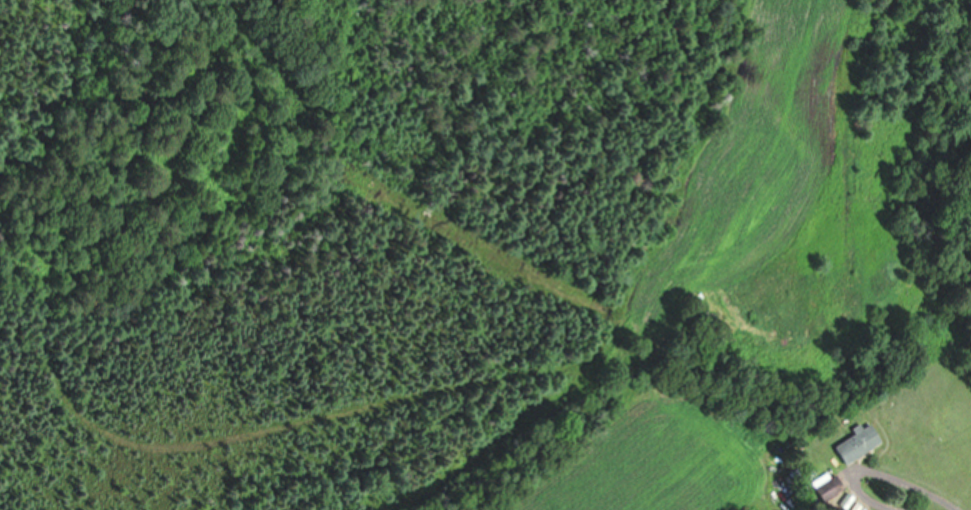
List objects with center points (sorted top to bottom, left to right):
building: (858, 442)

